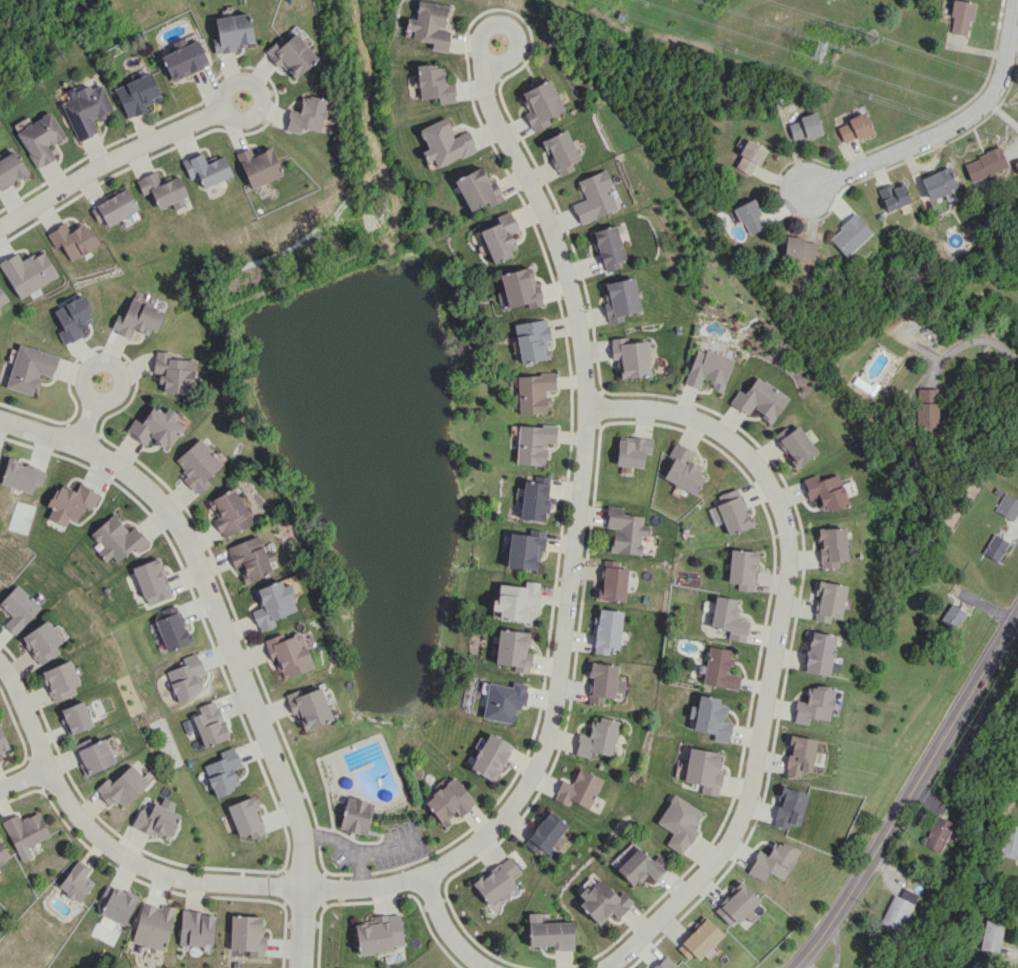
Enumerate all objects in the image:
building: (960, 17)
building: (429, 25)
building: (232, 32)
power tower: (818, 50)
building: (291, 55)
building: (184, 57)
building: (434, 84)
building: (136, 94)
building: (541, 104)
building: (86, 110)
building: (307, 115)
building: (804, 127)
building: (853, 128)
road: (934, 132)
building: (40, 138)
building: (444, 142)
building: (561, 151)
building: (749, 157)
road: (118, 158)
building: (984, 164)
building: (258, 165)
building: (11, 169)
building: (206, 169)
building: (937, 182)
building: (477, 188)
building: (162, 189)
building: (595, 196)
building: (895, 197)
building: (114, 207)
building: (749, 217)
building: (849, 235)
building: (499, 237)
building: (73, 240)
building: (609, 247)
building: (798, 248)
building: (27, 272)
building: (520, 287)
building: (2, 297)
building: (622, 298)
building: (0, 313)
building: (72, 318)
building: (136, 319)
building: (532, 340)
road: (968, 340)
building: (631, 356)
building: (30, 368)
building: (710, 369)
building: (173, 372)
building: (533, 392)
building: (760, 399)
building: (925, 407)
road: (89, 410)
building: (155, 427)
building: (533, 443)
building: (795, 445)
building: (633, 451)
building: (197, 465)
building: (683, 469)
building: (22, 475)
building: (825, 491)
building: (728, 495)
building: (534, 498)
building: (70, 503)
building: (1007, 506)
building: (228, 512)
building: (734, 515)
building: (626, 530)
building: (117, 539)
building: (830, 546)
building: (994, 547)
building: (524, 550)
building: (743, 568)
building: (0, 580)
building: (152, 581)
building: (613, 581)
building: (515, 600)
building: (828, 600)
building: (272, 603)
building: (18, 608)
building: (951, 616)
building: (728, 618)
building: (172, 628)
building: (607, 630)
road: (230, 640)
building: (42, 642)
road: (781, 646)
building: (512, 650)
building: (818, 653)
building: (288, 654)
building: (720, 669)
building: (186, 677)
building: (60, 680)
building: (605, 681)
building: (503, 701)
building: (814, 704)
building: (308, 707)
building: (76, 717)
building: (710, 718)
building: (209, 722)
building: (598, 738)
road: (547, 741)
building: (3, 744)
building: (799, 755)
building: (95, 756)
building: (490, 757)
building: (703, 770)
building: (223, 771)
road: (24, 780)
building: (122, 786)
building: (579, 789)
road: (906, 795)
building: (449, 800)
building: (788, 807)
building: (355, 815)
building: (156, 818)
building: (246, 818)
building: (679, 822)
building: (25, 832)
building: (545, 832)
building: (936, 833)
building: (1009, 841)
building: (3, 854)
building: (772, 861)
building: (641, 866)
building: (496, 880)
building: (76, 881)
building: (603, 902)
building: (116, 903)
building: (736, 903)
building: (897, 909)
road: (447, 923)
building: (152, 925)
building: (195, 928)
building: (550, 932)
building: (247, 934)
building: (378, 934)
building: (991, 935)
building: (699, 939)
building: (664, 963)
building: (849, 967)

